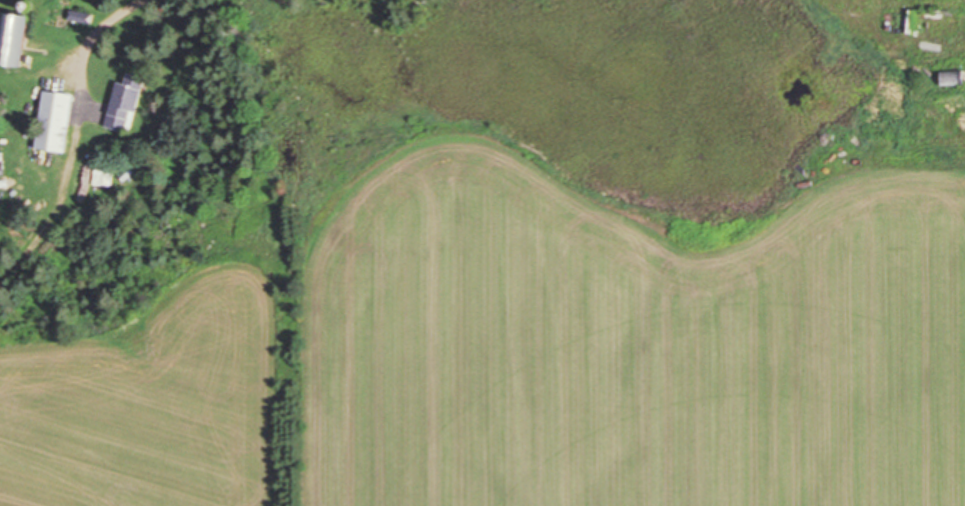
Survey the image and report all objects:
building: (8, 39)
building: (949, 78)
building: (123, 103)
building: (50, 121)
building: (101, 175)

